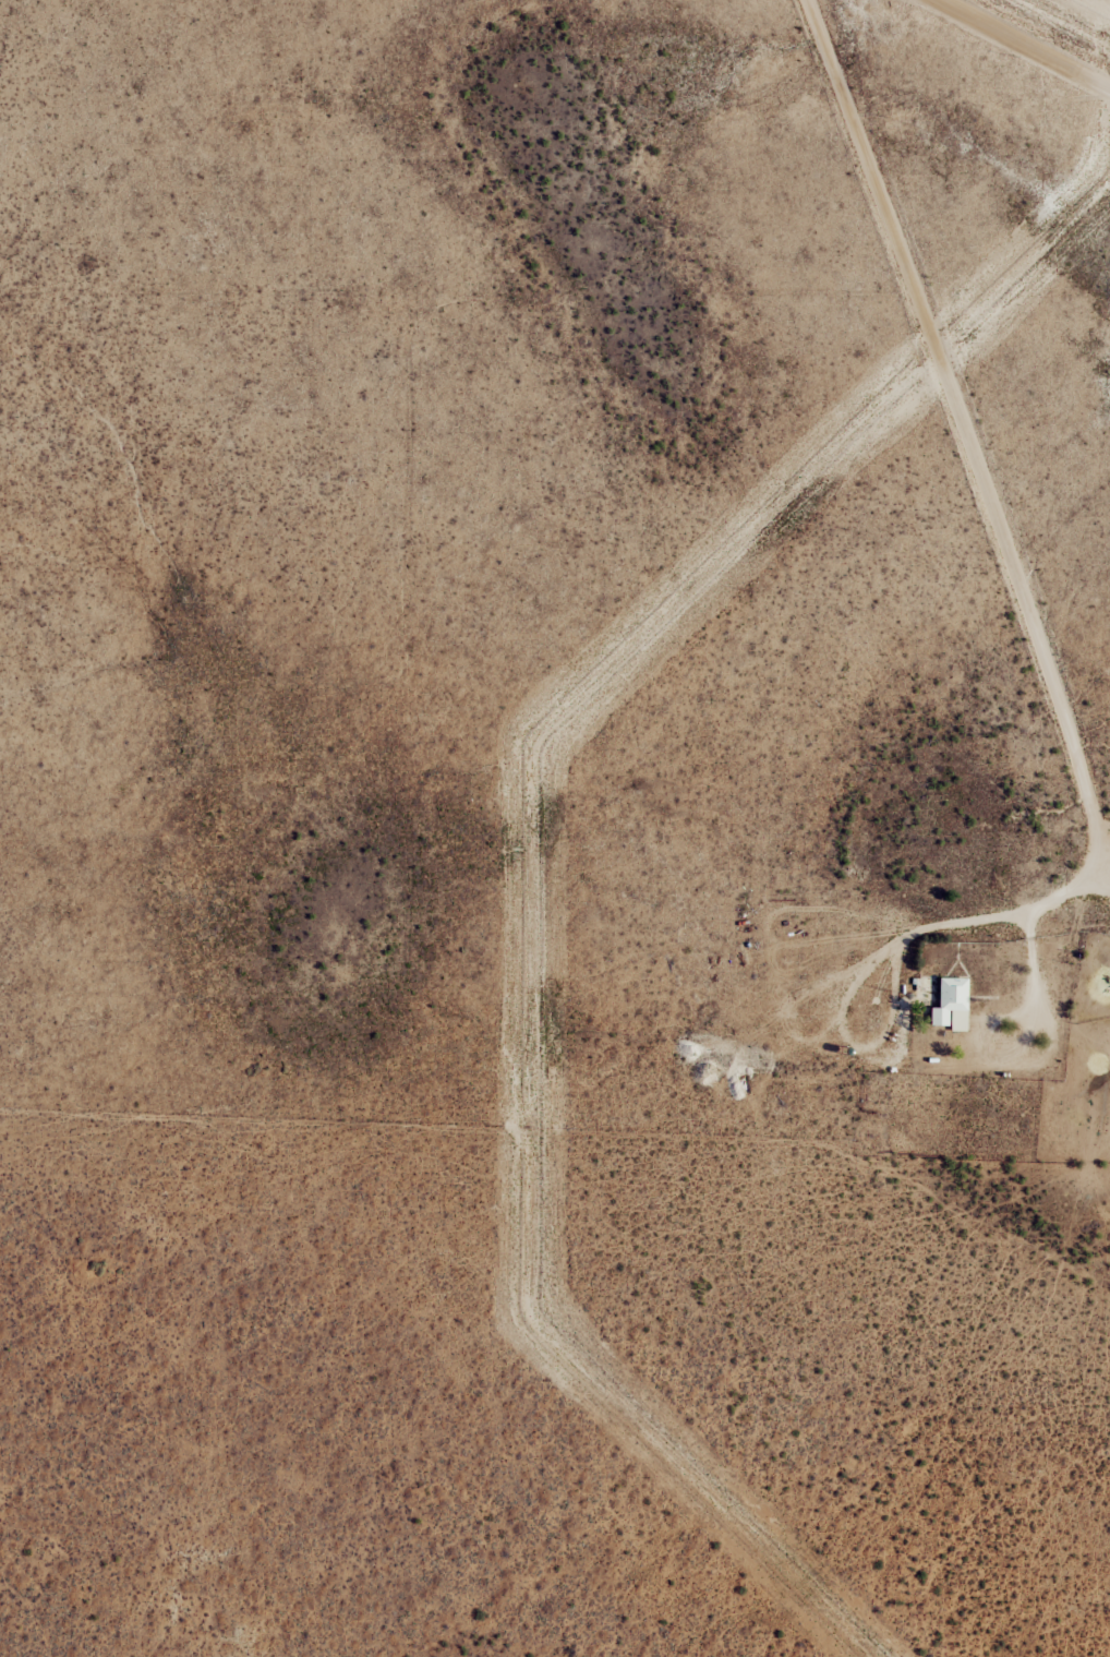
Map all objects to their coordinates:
road: (1010, 50)
road: (967, 429)
road: (1107, 866)
road: (896, 959)
road: (1034, 983)

